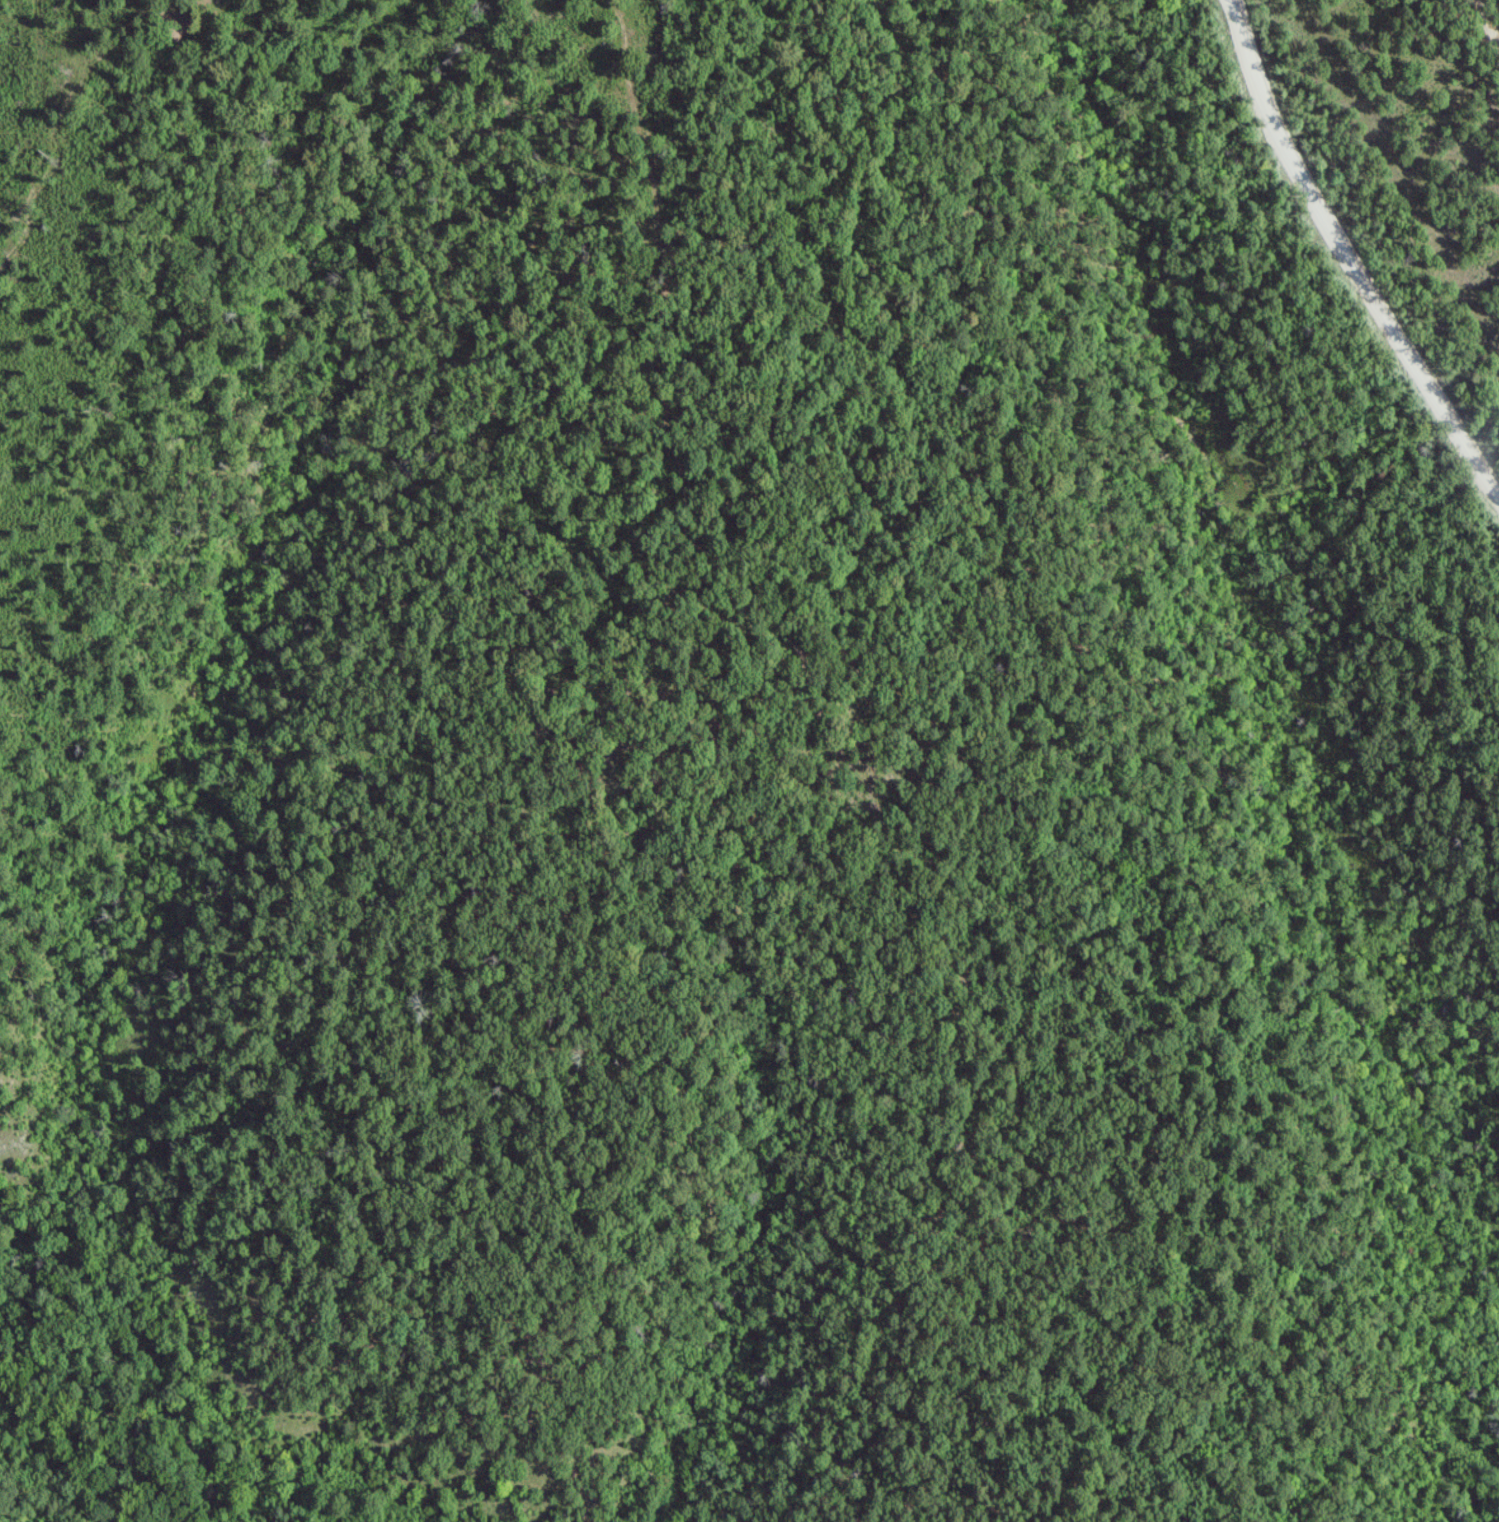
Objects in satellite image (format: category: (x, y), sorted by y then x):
road: (1491, 31)
road: (1350, 255)

